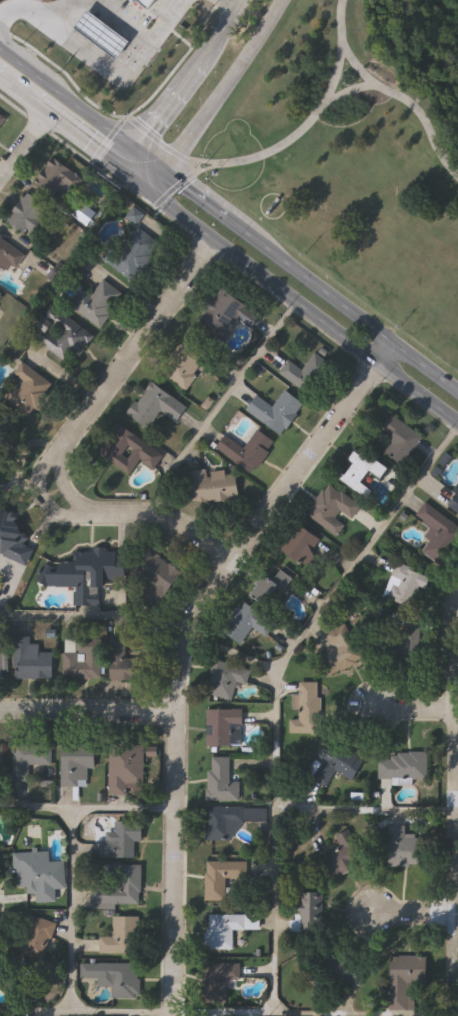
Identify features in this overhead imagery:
building: (150, 3)
road: (226, 5)
road: (62, 15)
road: (125, 19)
road: (222, 27)
building: (105, 34)
gas station: (105, 34)
road: (102, 66)
road: (225, 87)
road: (350, 93)
road: (388, 93)
road: (66, 100)
road: (168, 102)
building: (1, 122)
road: (58, 125)
road: (294, 139)
road: (21, 145)
traffic signals: (132, 149)
park: (355, 156)
road: (124, 158)
road: (147, 160)
traffic signals: (116, 168)
traffic signals: (163, 172)
road: (132, 179)
building: (55, 180)
road: (155, 181)
traffic signals: (148, 191)
road: (195, 195)
building: (29, 214)
building: (132, 253)
building: (9, 254)
building: (1, 299)
building: (98, 303)
road: (341, 306)
road: (301, 309)
building: (228, 313)
building: (61, 333)
road: (141, 342)
building: (184, 362)
building: (305, 372)
building: (29, 389)
building: (156, 405)
road: (219, 405)
building: (276, 410)
building: (4, 426)
building: (400, 439)
building: (129, 450)
building: (247, 450)
building: (360, 472)
building: (213, 485)
road: (66, 487)
building: (456, 493)
road: (44, 500)
building: (332, 509)
road: (172, 519)
building: (437, 532)
building: (13, 540)
building: (303, 545)
building: (89, 568)
building: (155, 578)
building: (406, 587)
building: (269, 588)
road: (96, 614)
building: (247, 623)
building: (399, 643)
building: (343, 646)
road: (187, 647)
building: (83, 658)
building: (32, 660)
building: (125, 662)
building: (1, 663)
road: (455, 669)
road: (280, 676)
building: (226, 678)
building: (307, 709)
road: (415, 712)
road: (89, 717)
building: (222, 725)
building: (1, 758)
building: (29, 758)
building: (77, 763)
building: (335, 764)
building: (402, 766)
building: (126, 767)
building: (221, 780)
road: (88, 809)
building: (221, 821)
building: (122, 840)
building: (402, 847)
building: (344, 854)
building: (38, 872)
building: (222, 877)
building: (116, 886)
road: (72, 911)
building: (311, 912)
road: (417, 914)
building: (223, 929)
building: (122, 935)
building: (36, 937)
building: (0, 968)
building: (349, 970)
building: (121, 978)
building: (218, 978)
building: (406, 980)
road: (86, 1014)
road: (293, 1014)

